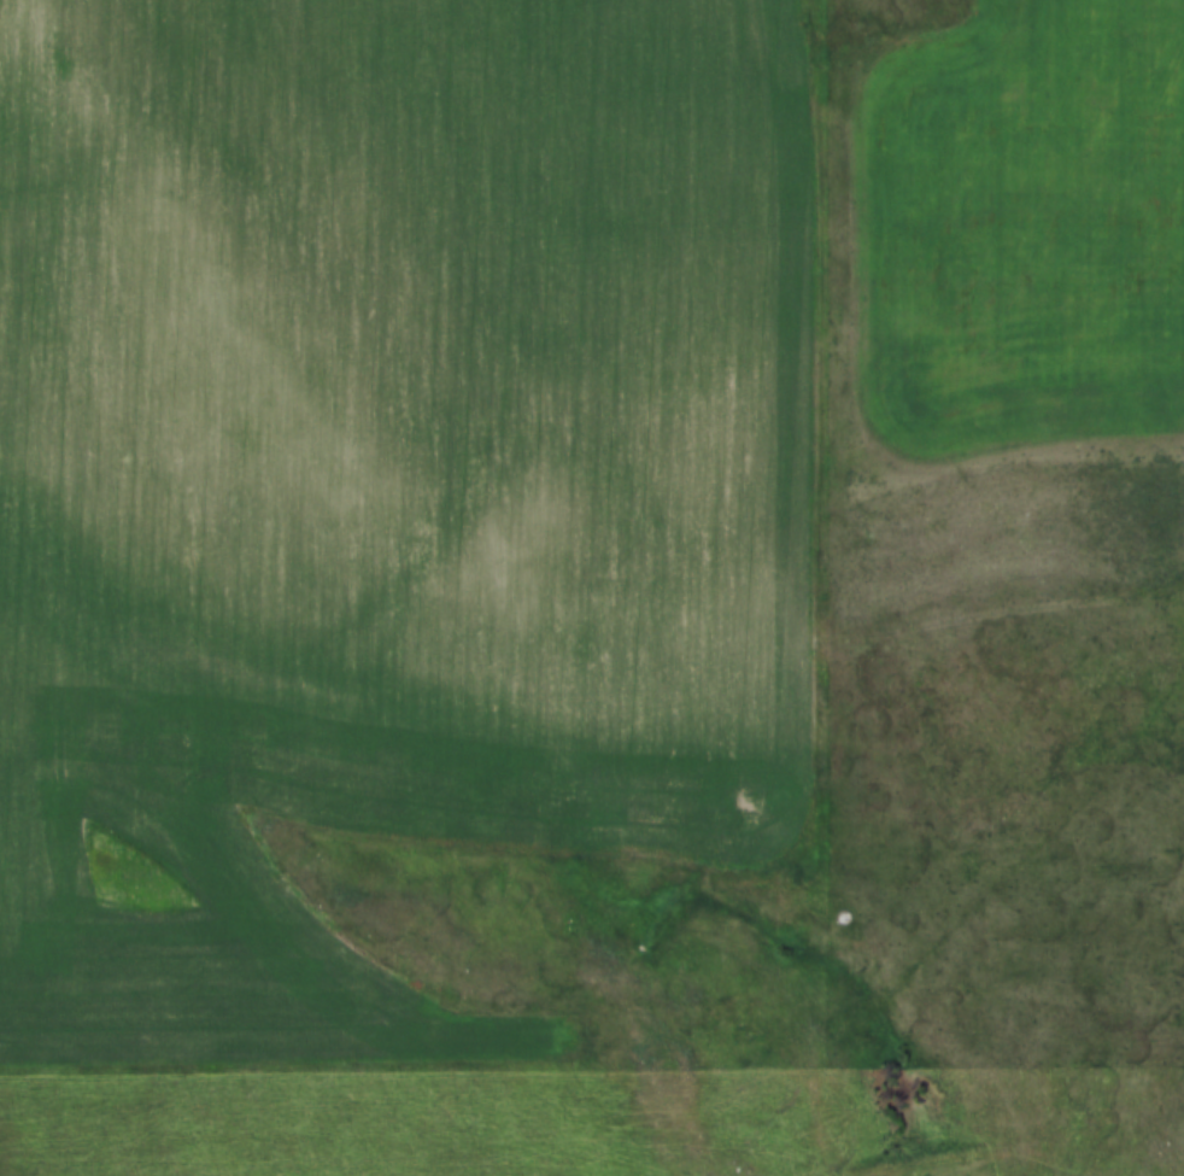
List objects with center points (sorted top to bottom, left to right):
road: (862, 16)

